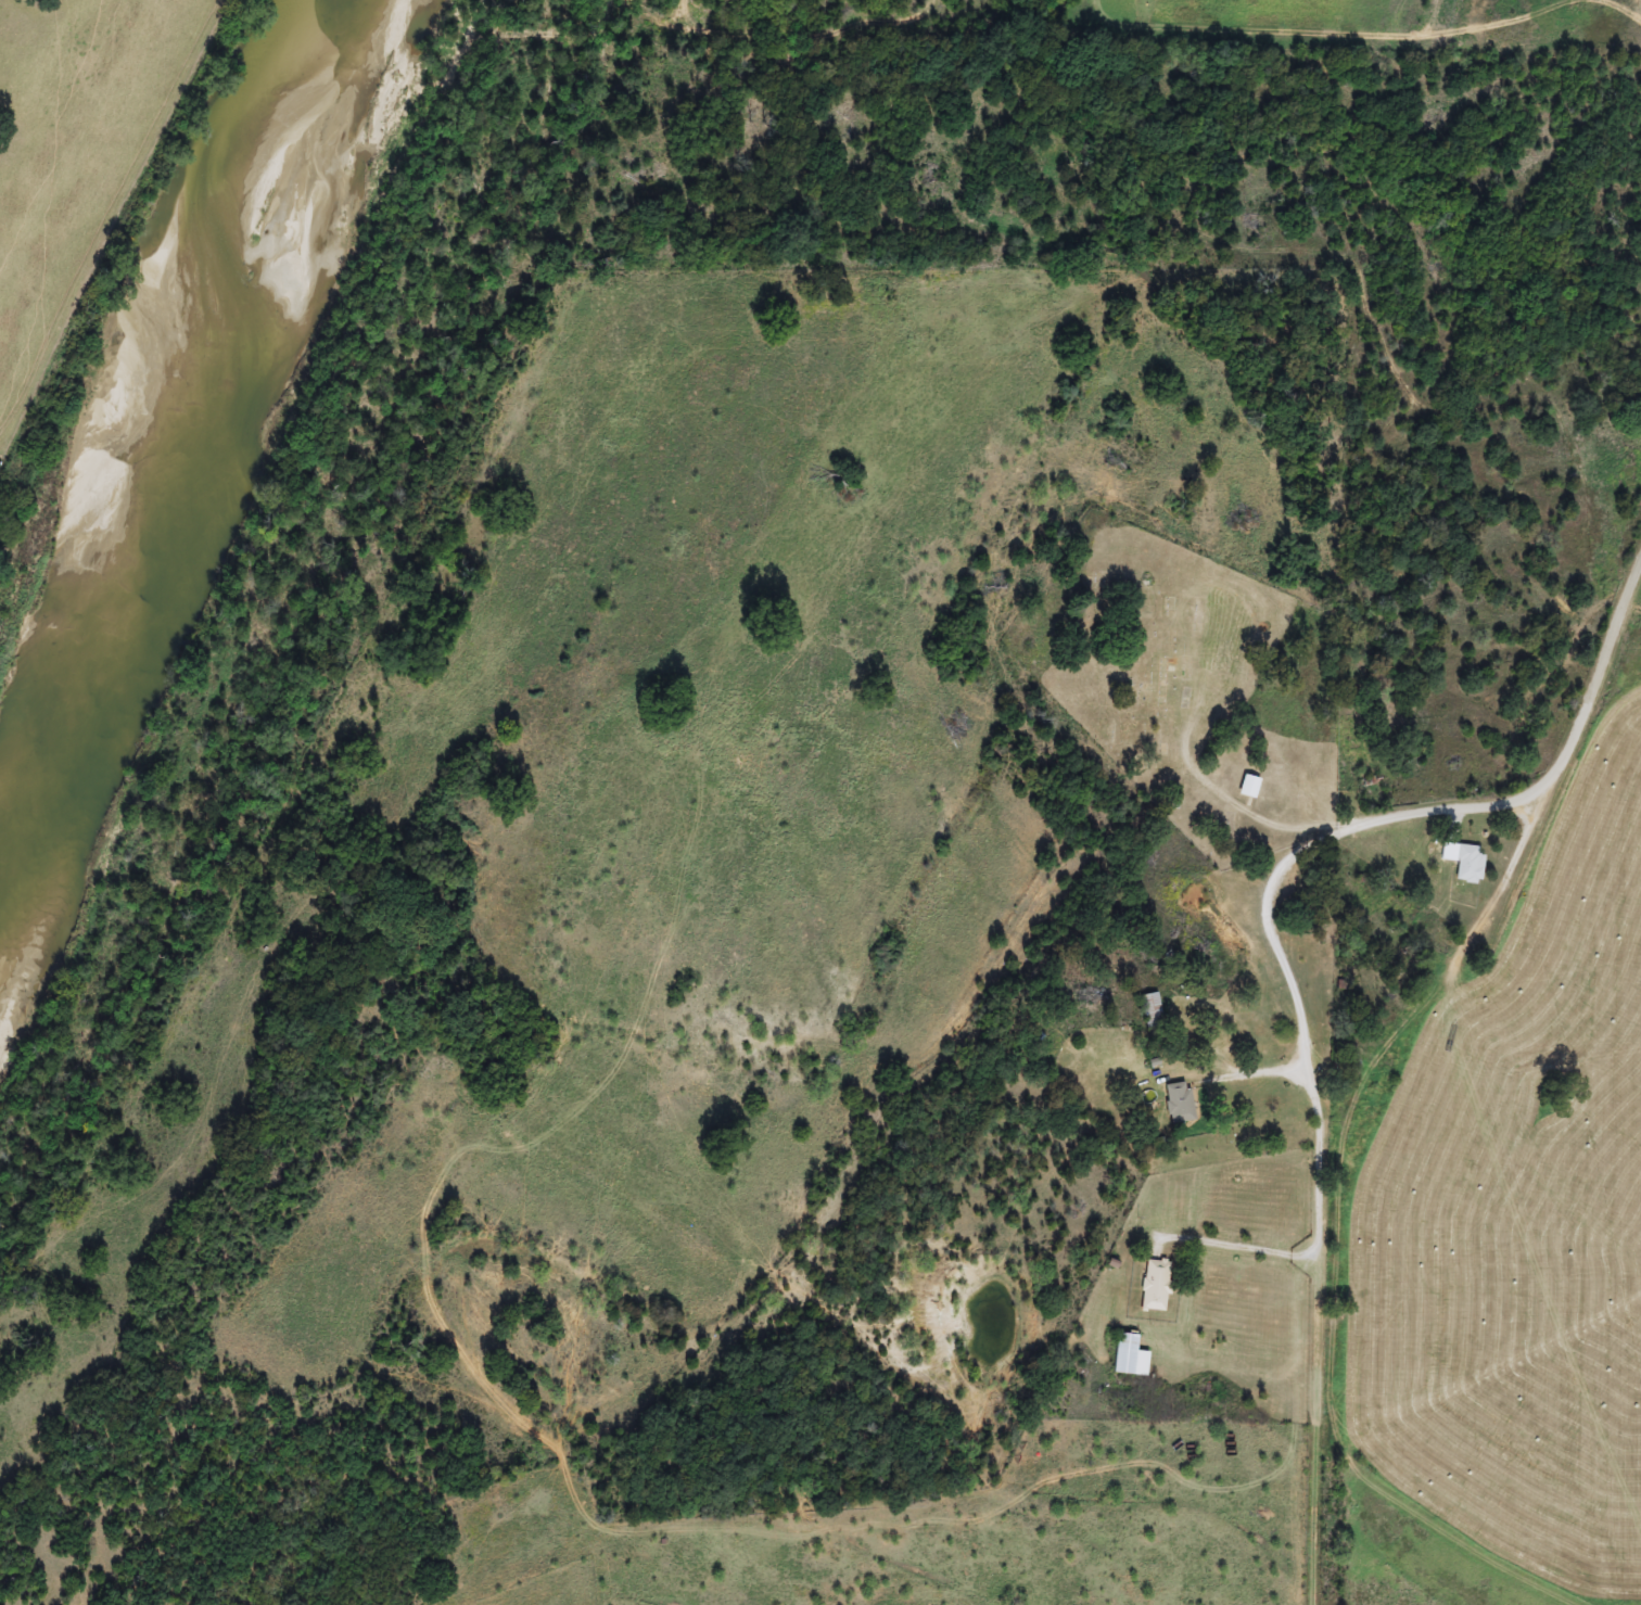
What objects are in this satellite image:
river: (174, 426)
park: (1195, 684)
building: (1249, 786)
road: (1343, 830)
building: (1465, 862)
building: (1152, 1011)
road: (1250, 1073)
building: (1179, 1103)
road: (1242, 1248)
building: (1156, 1286)
building: (1130, 1355)

